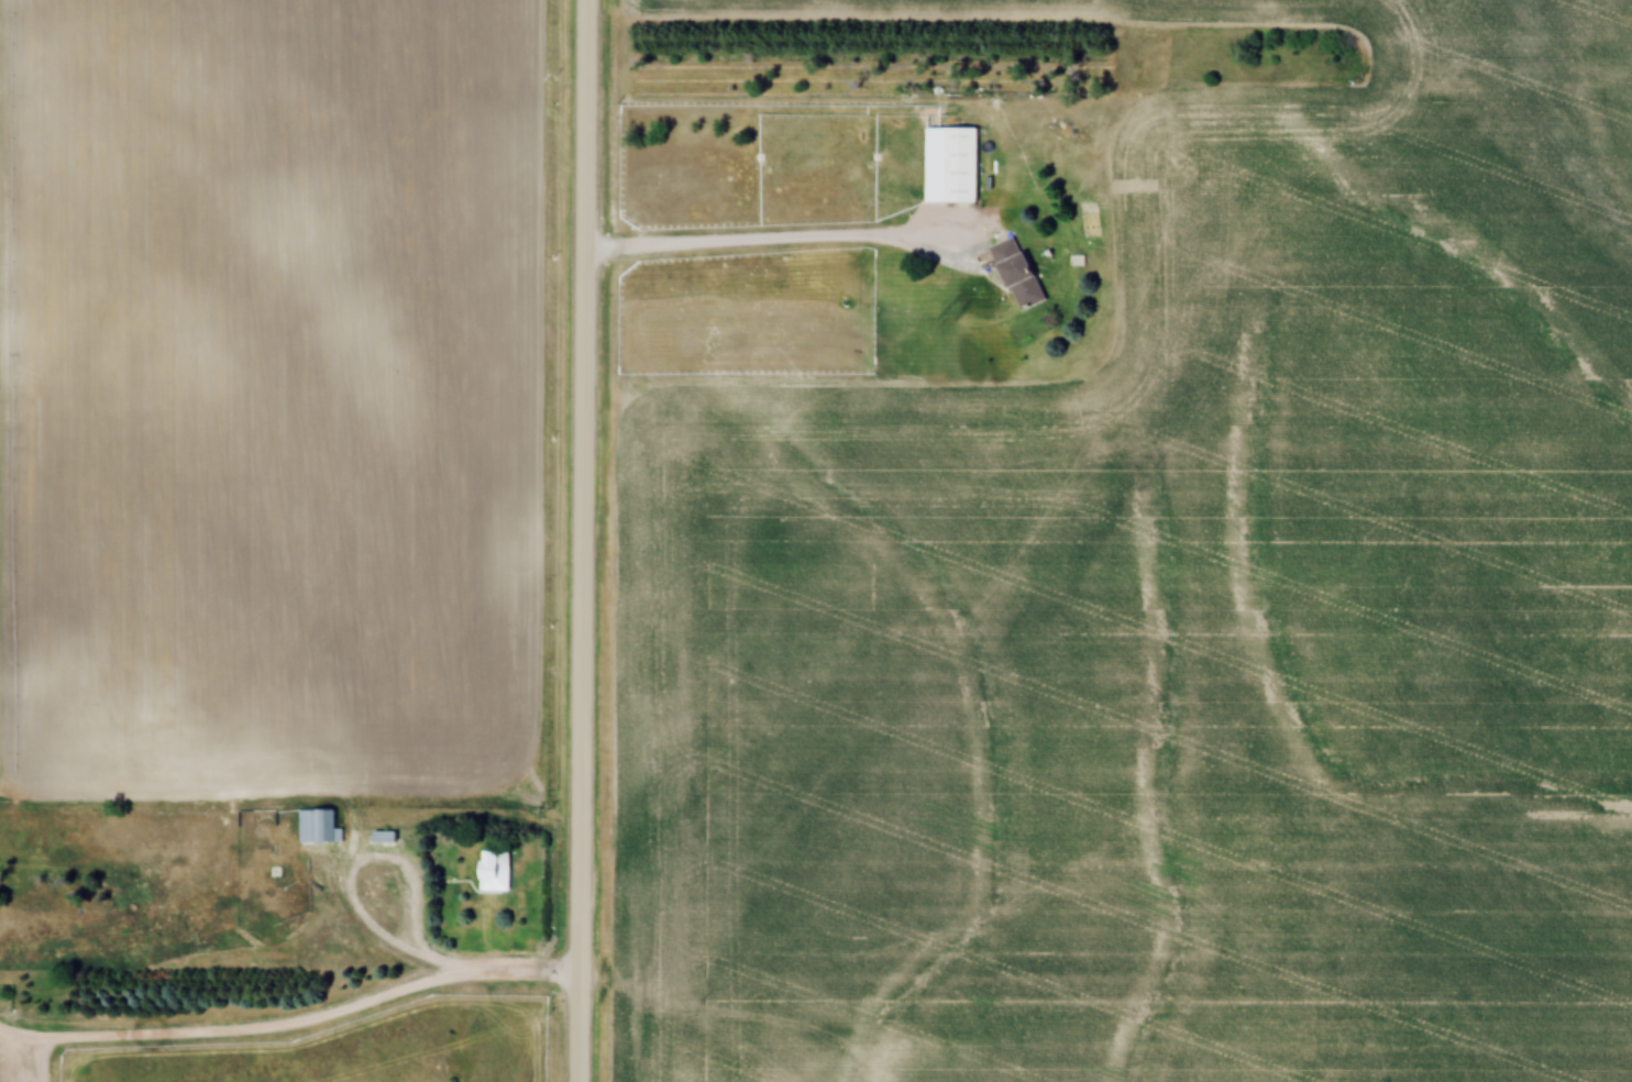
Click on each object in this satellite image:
building: (961, 166)
road: (772, 241)
building: (1017, 274)
road: (578, 540)
building: (317, 826)
road: (388, 864)
building: (495, 872)
road: (497, 975)
road: (240, 1037)

